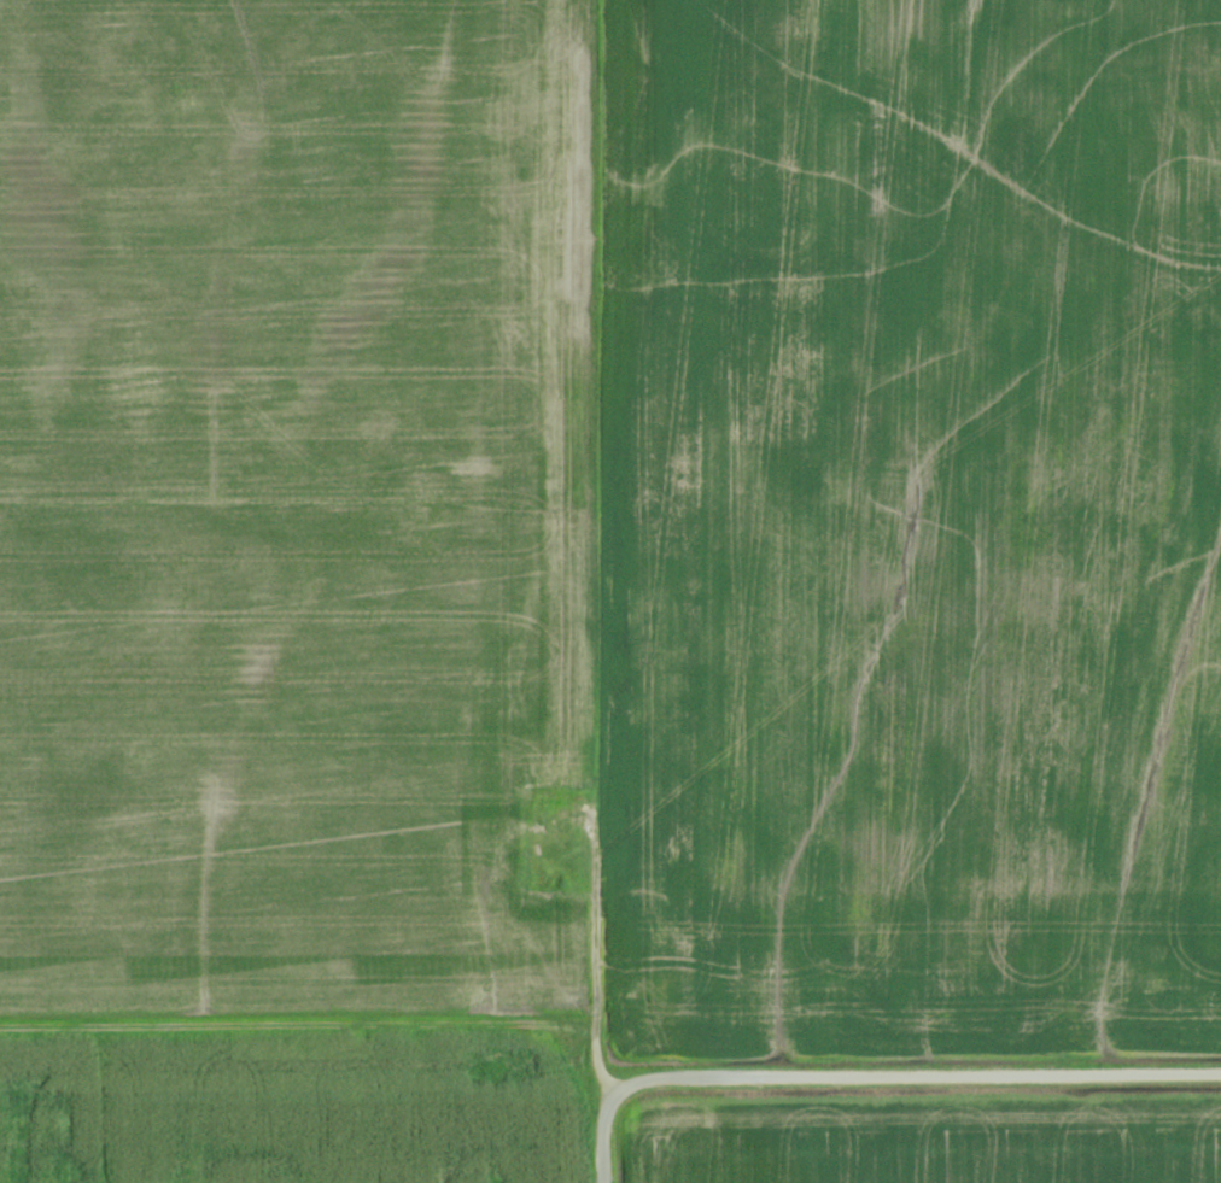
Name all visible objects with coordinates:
road: (597, 950)
road: (871, 1076)

